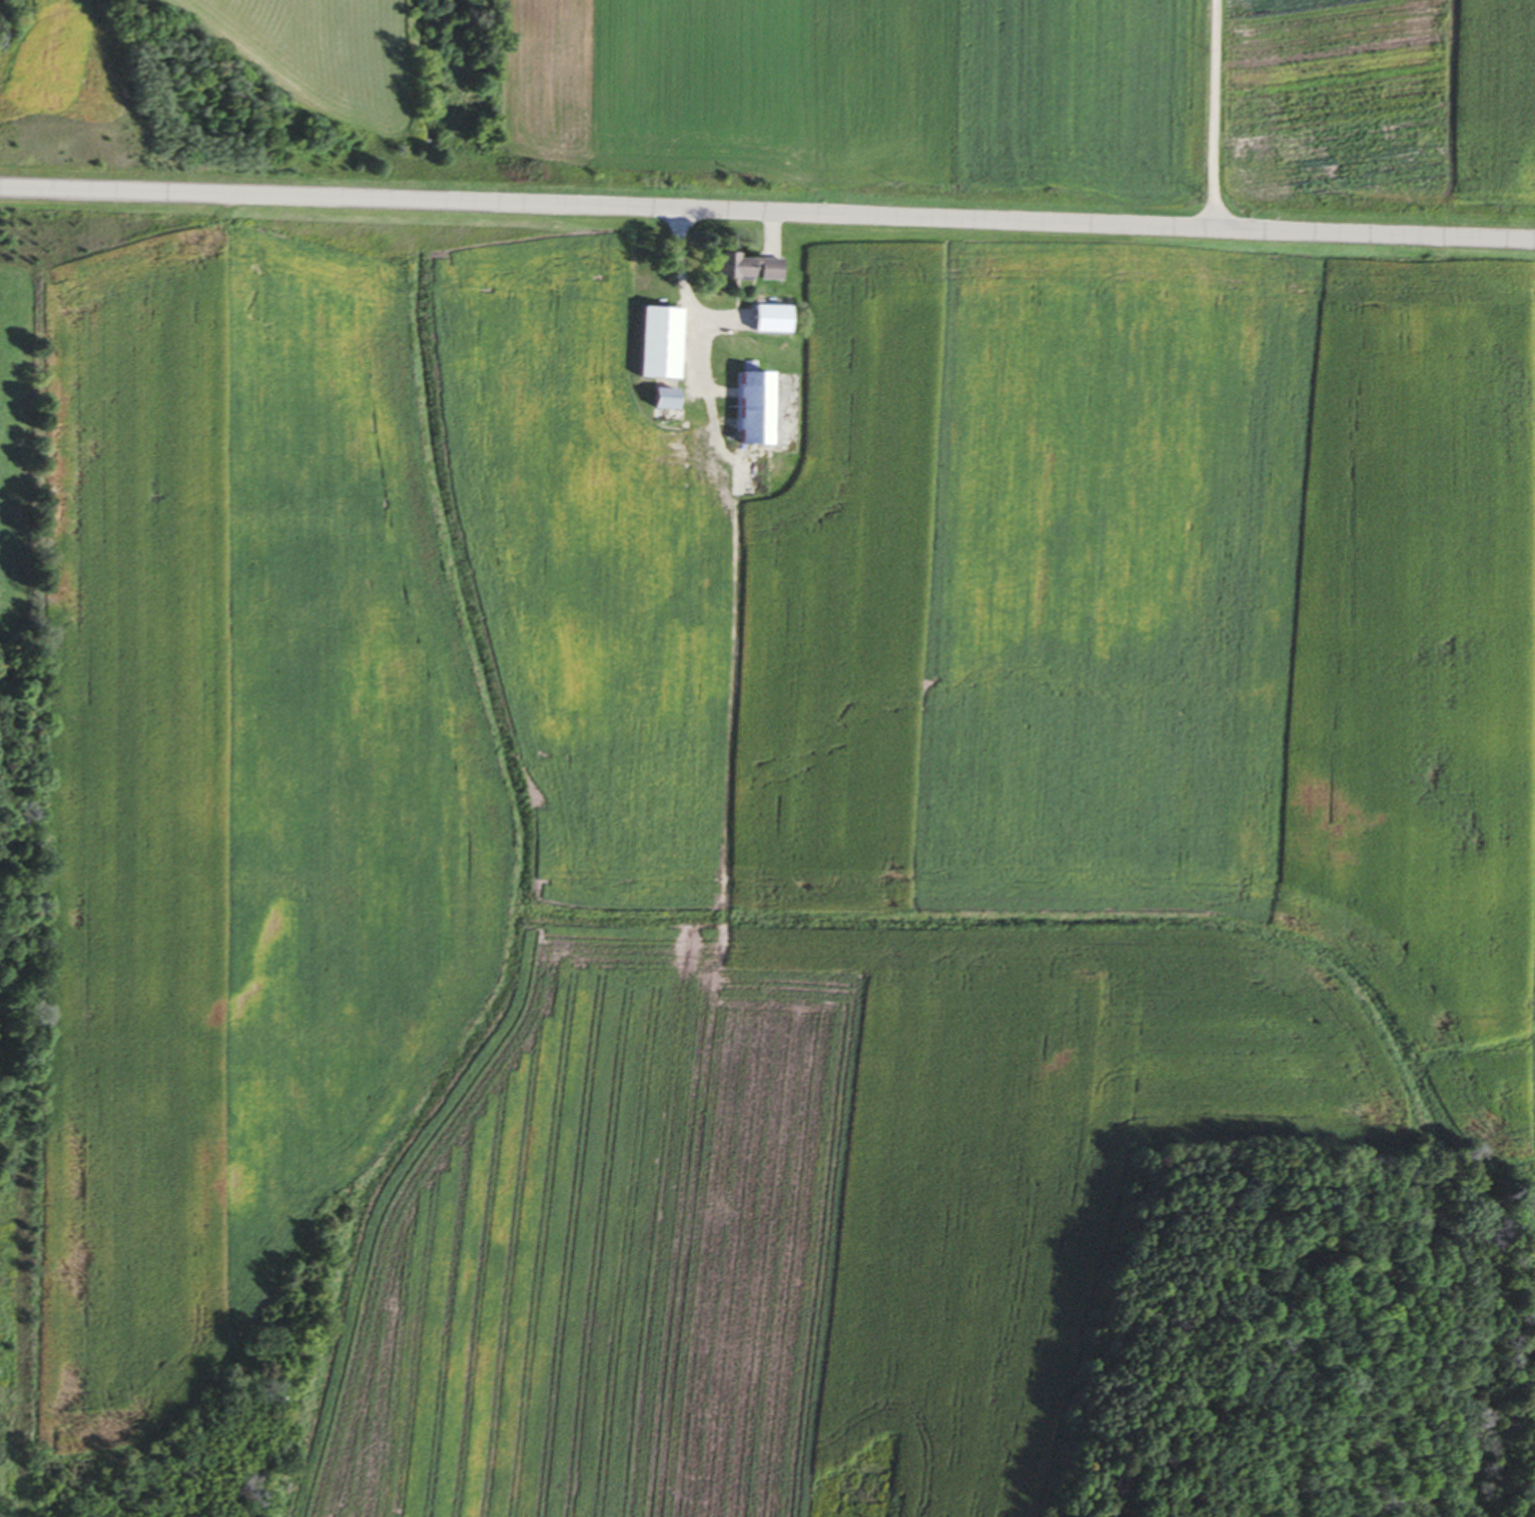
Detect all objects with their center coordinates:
road: (1213, 114)
road: (767, 213)
building: (739, 269)
road: (681, 279)
building: (761, 320)
building: (650, 344)
building: (655, 400)
building: (746, 409)

